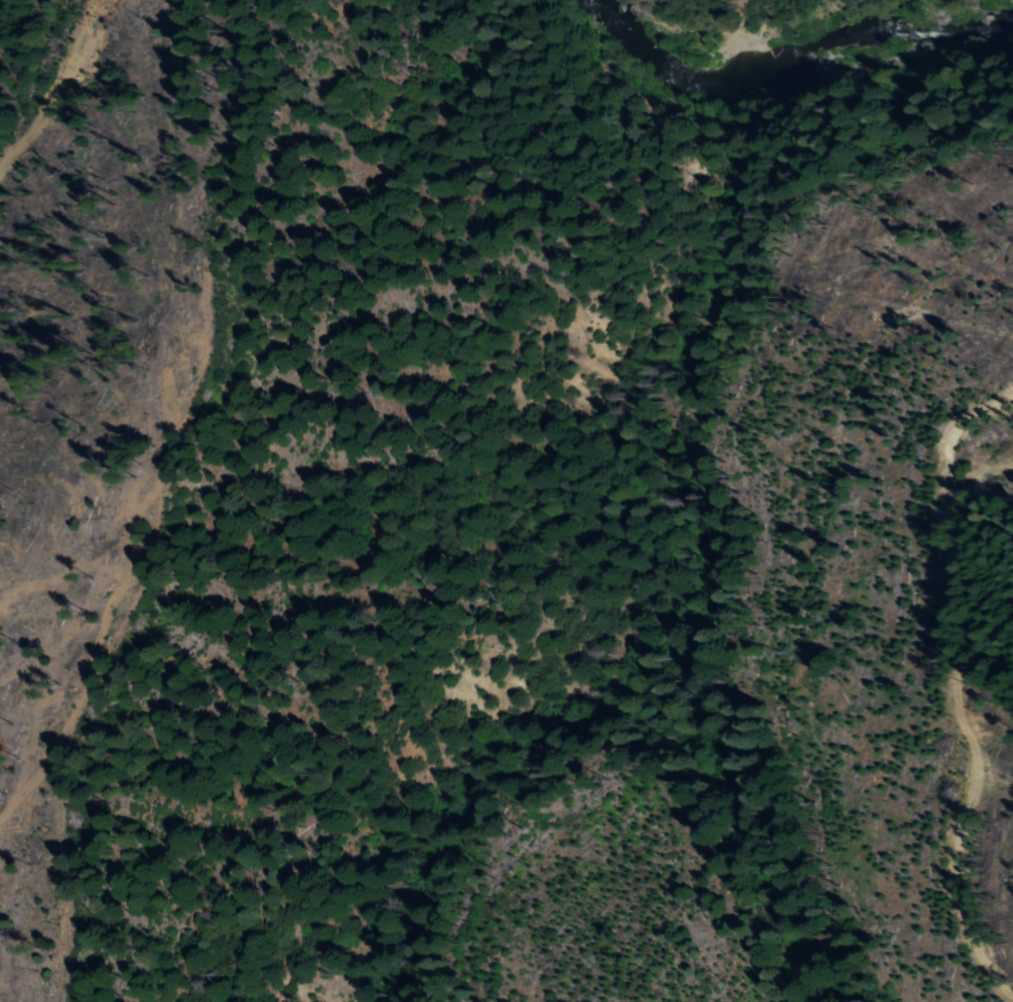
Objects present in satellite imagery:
river: (872, 41)
river: (639, 58)

